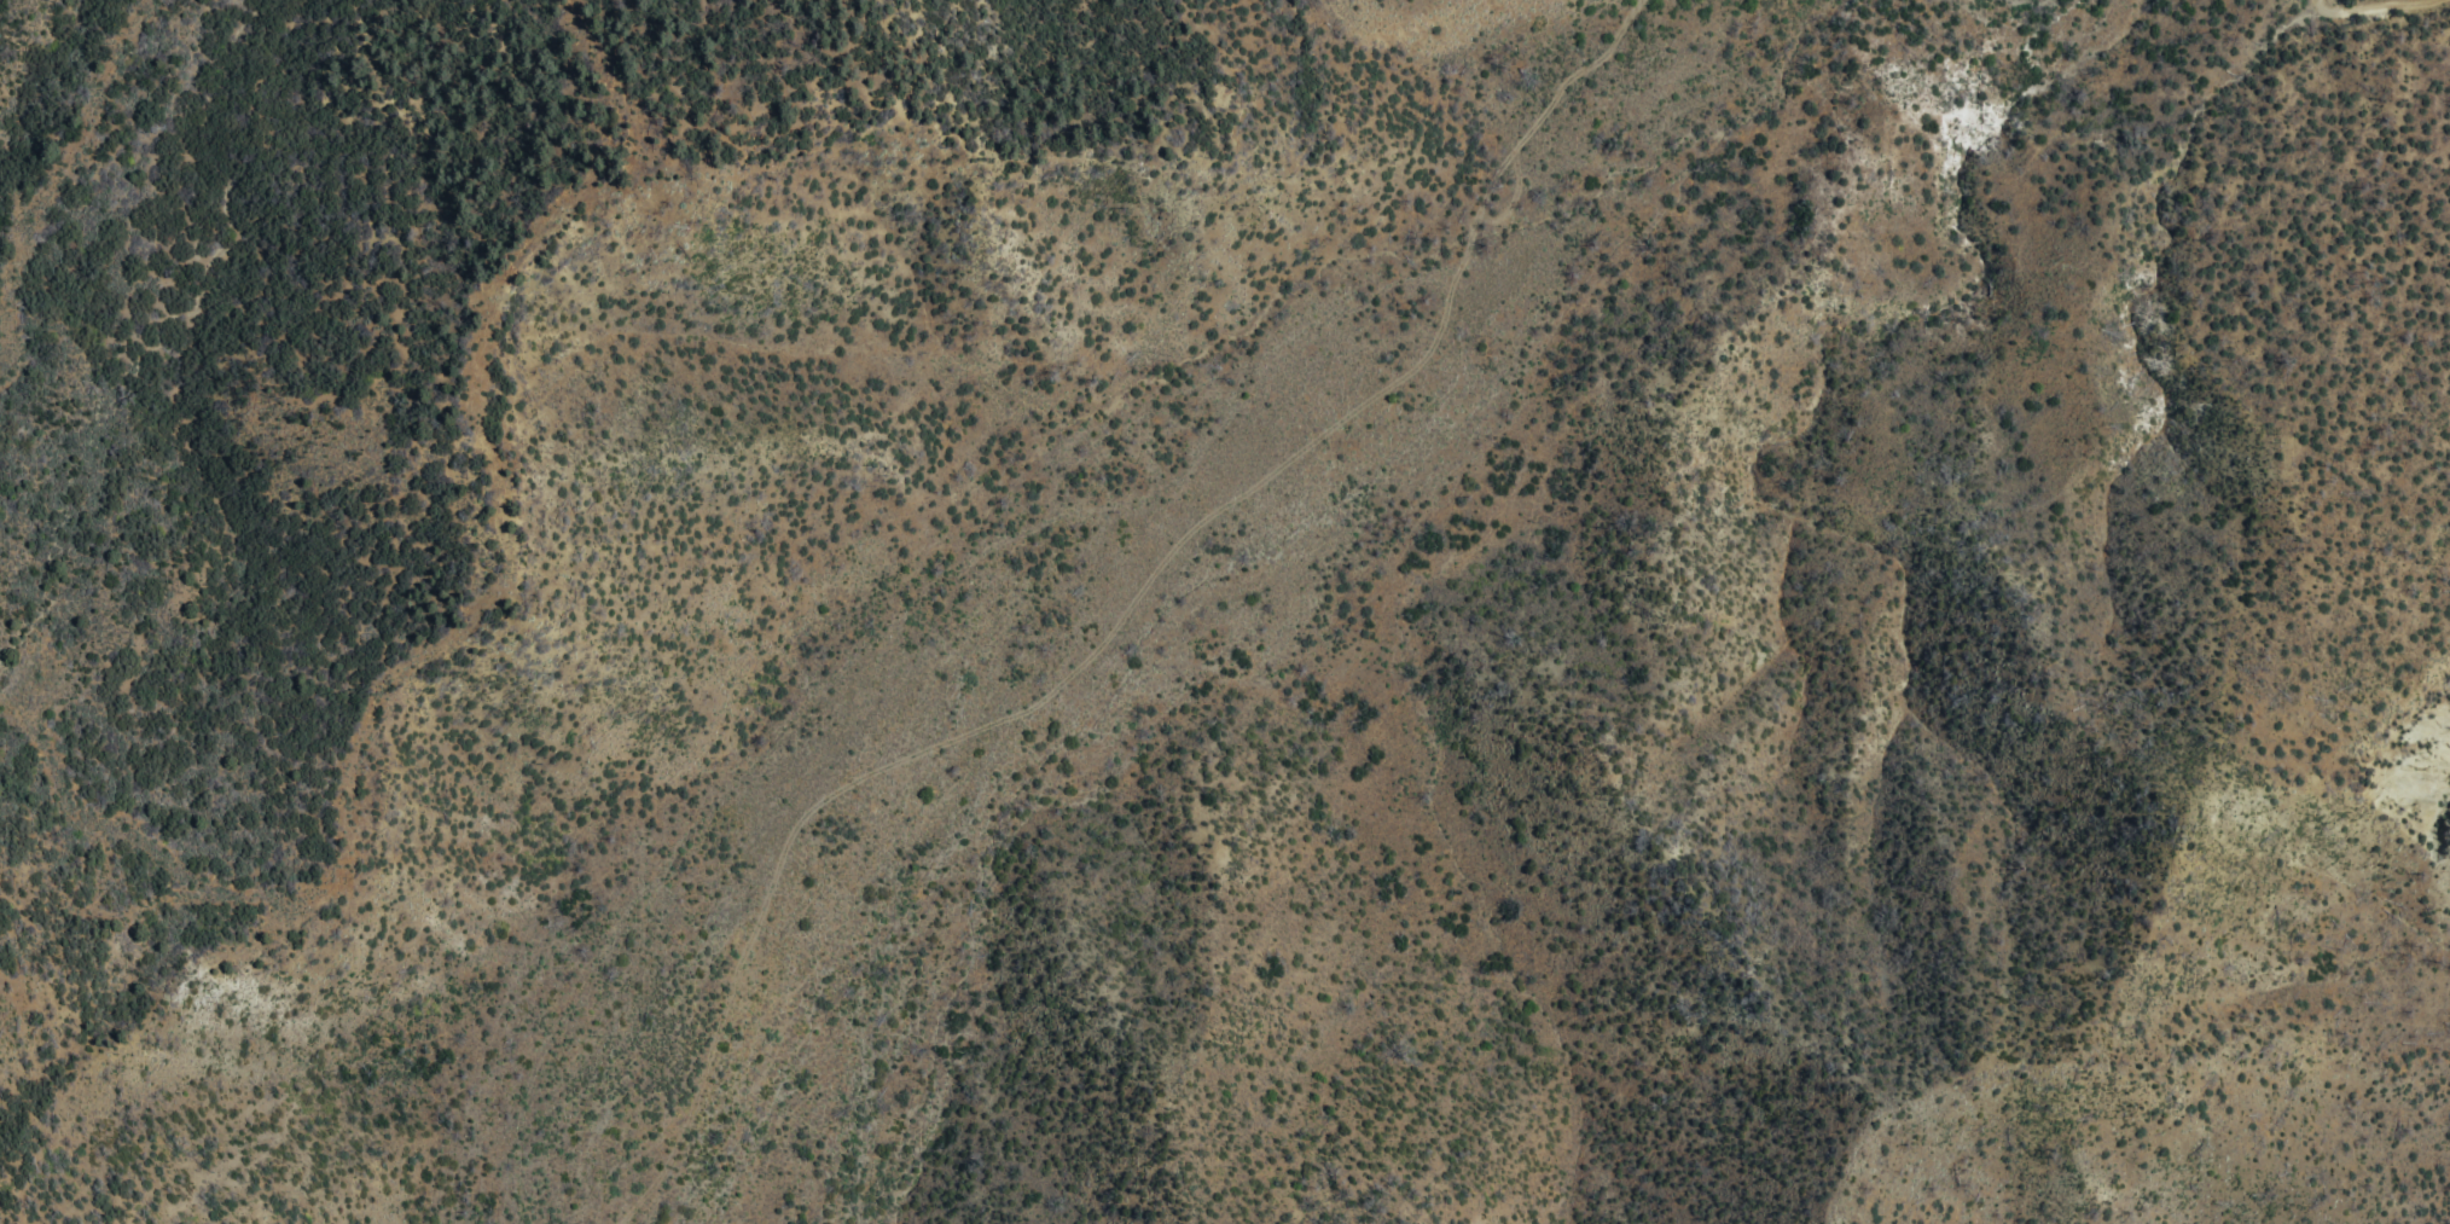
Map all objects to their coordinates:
road: (2375, 6)

